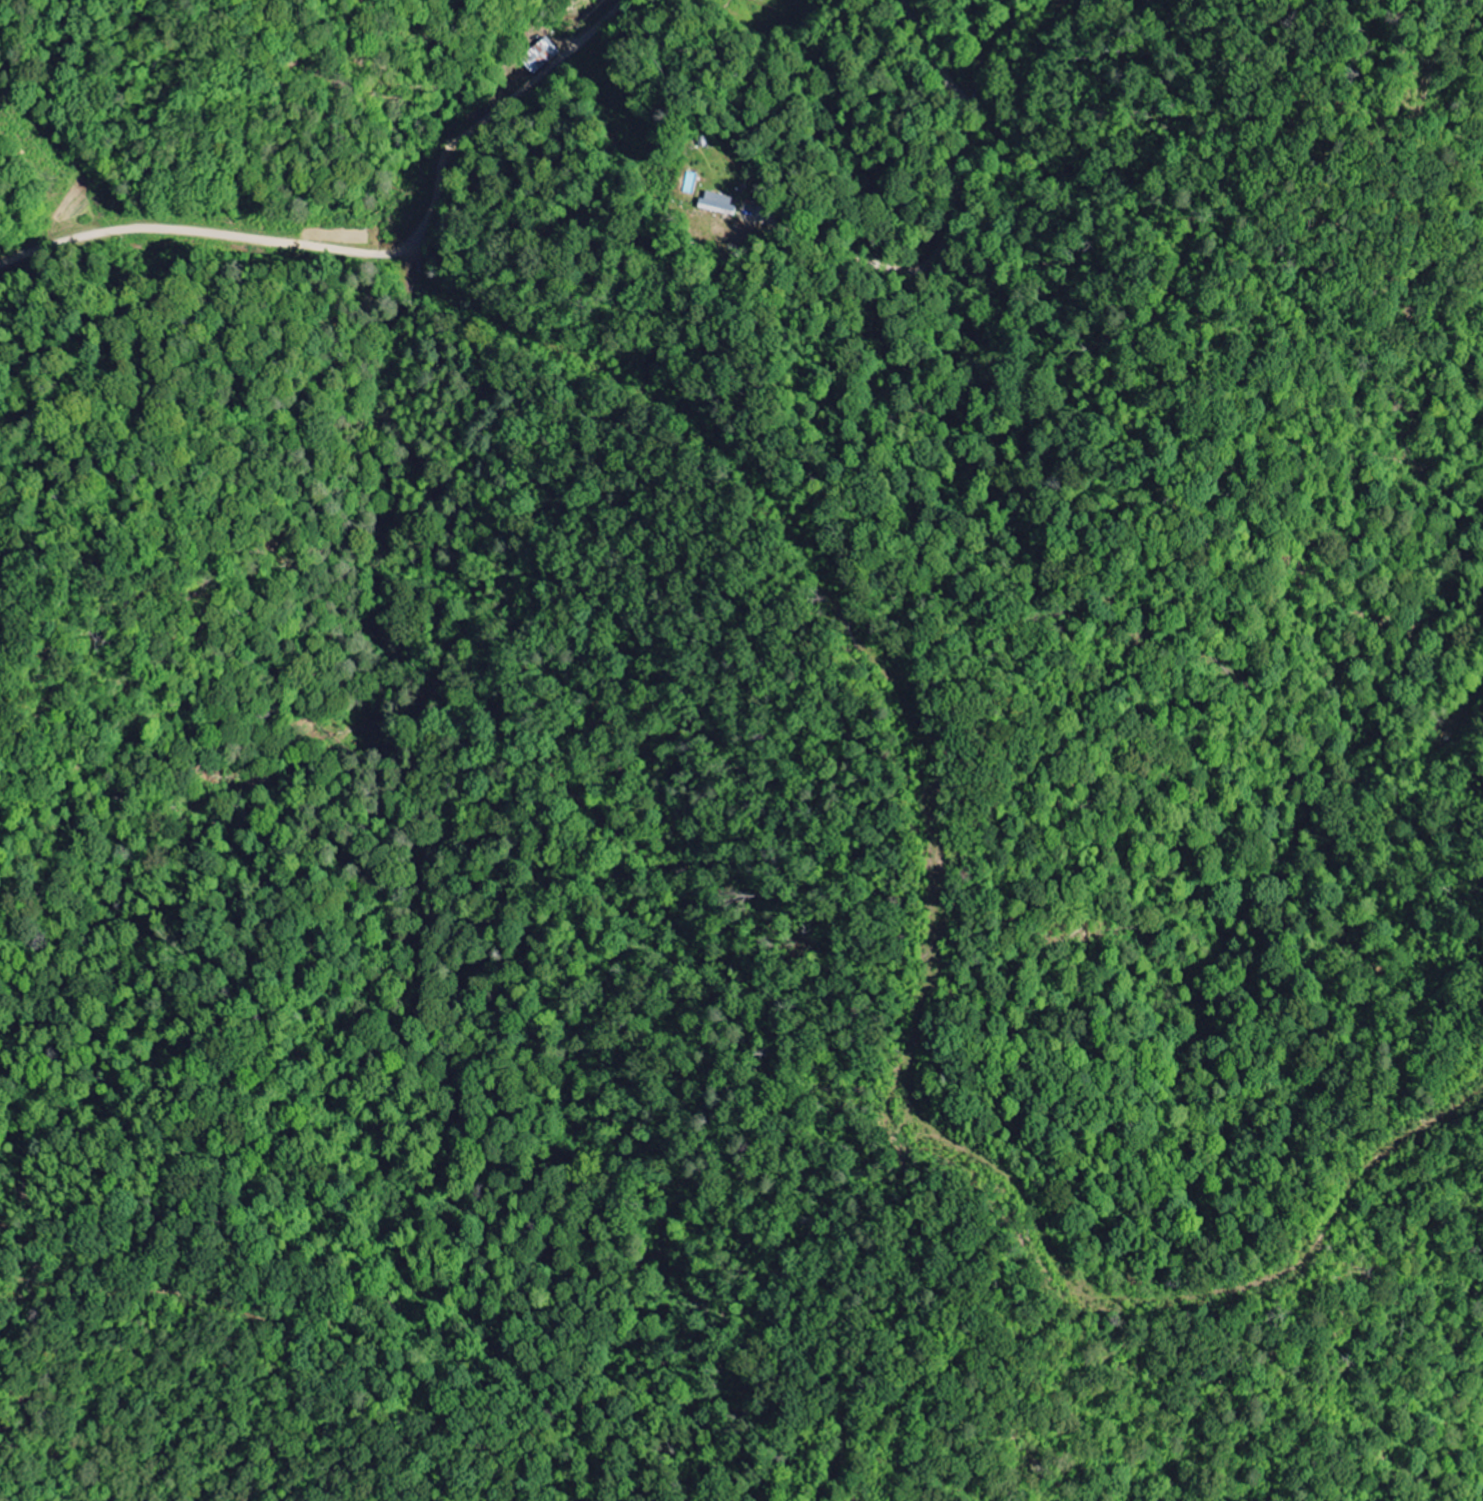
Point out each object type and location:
building: (540, 55)
building: (717, 204)

